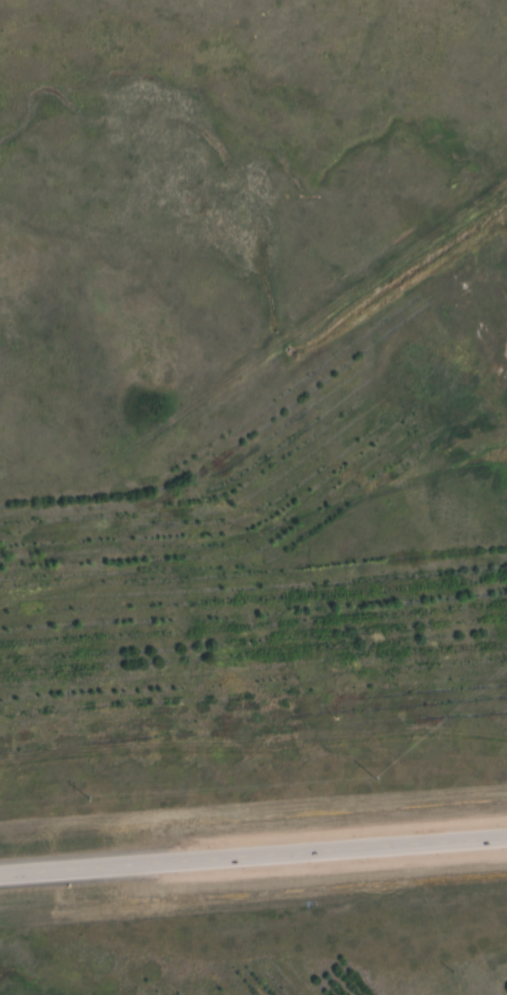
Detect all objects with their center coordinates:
road: (253, 858)

